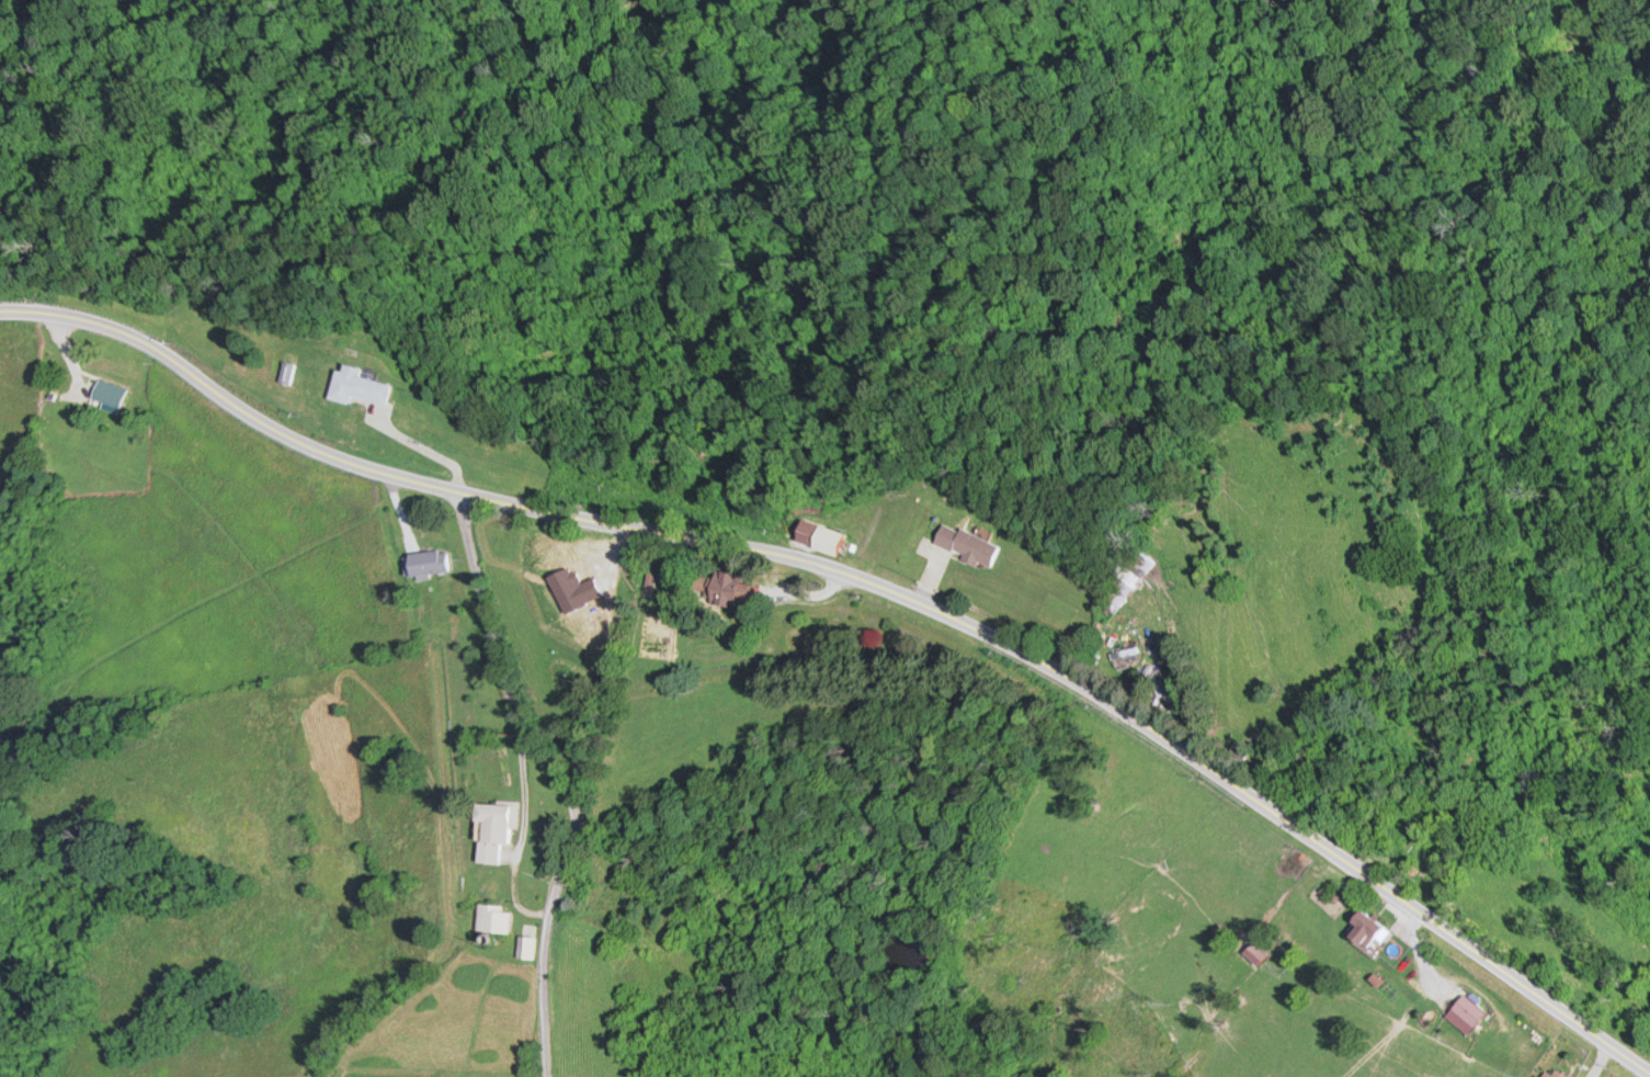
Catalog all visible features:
building: (291, 376)
building: (360, 387)
building: (109, 395)
building: (970, 545)
building: (431, 563)
road: (869, 578)
building: (1135, 582)
building: (731, 590)
building: (1169, 685)
road: (558, 779)
building: (499, 828)
building: (496, 918)
building: (1370, 930)
building: (526, 946)
building: (1552, 1073)

